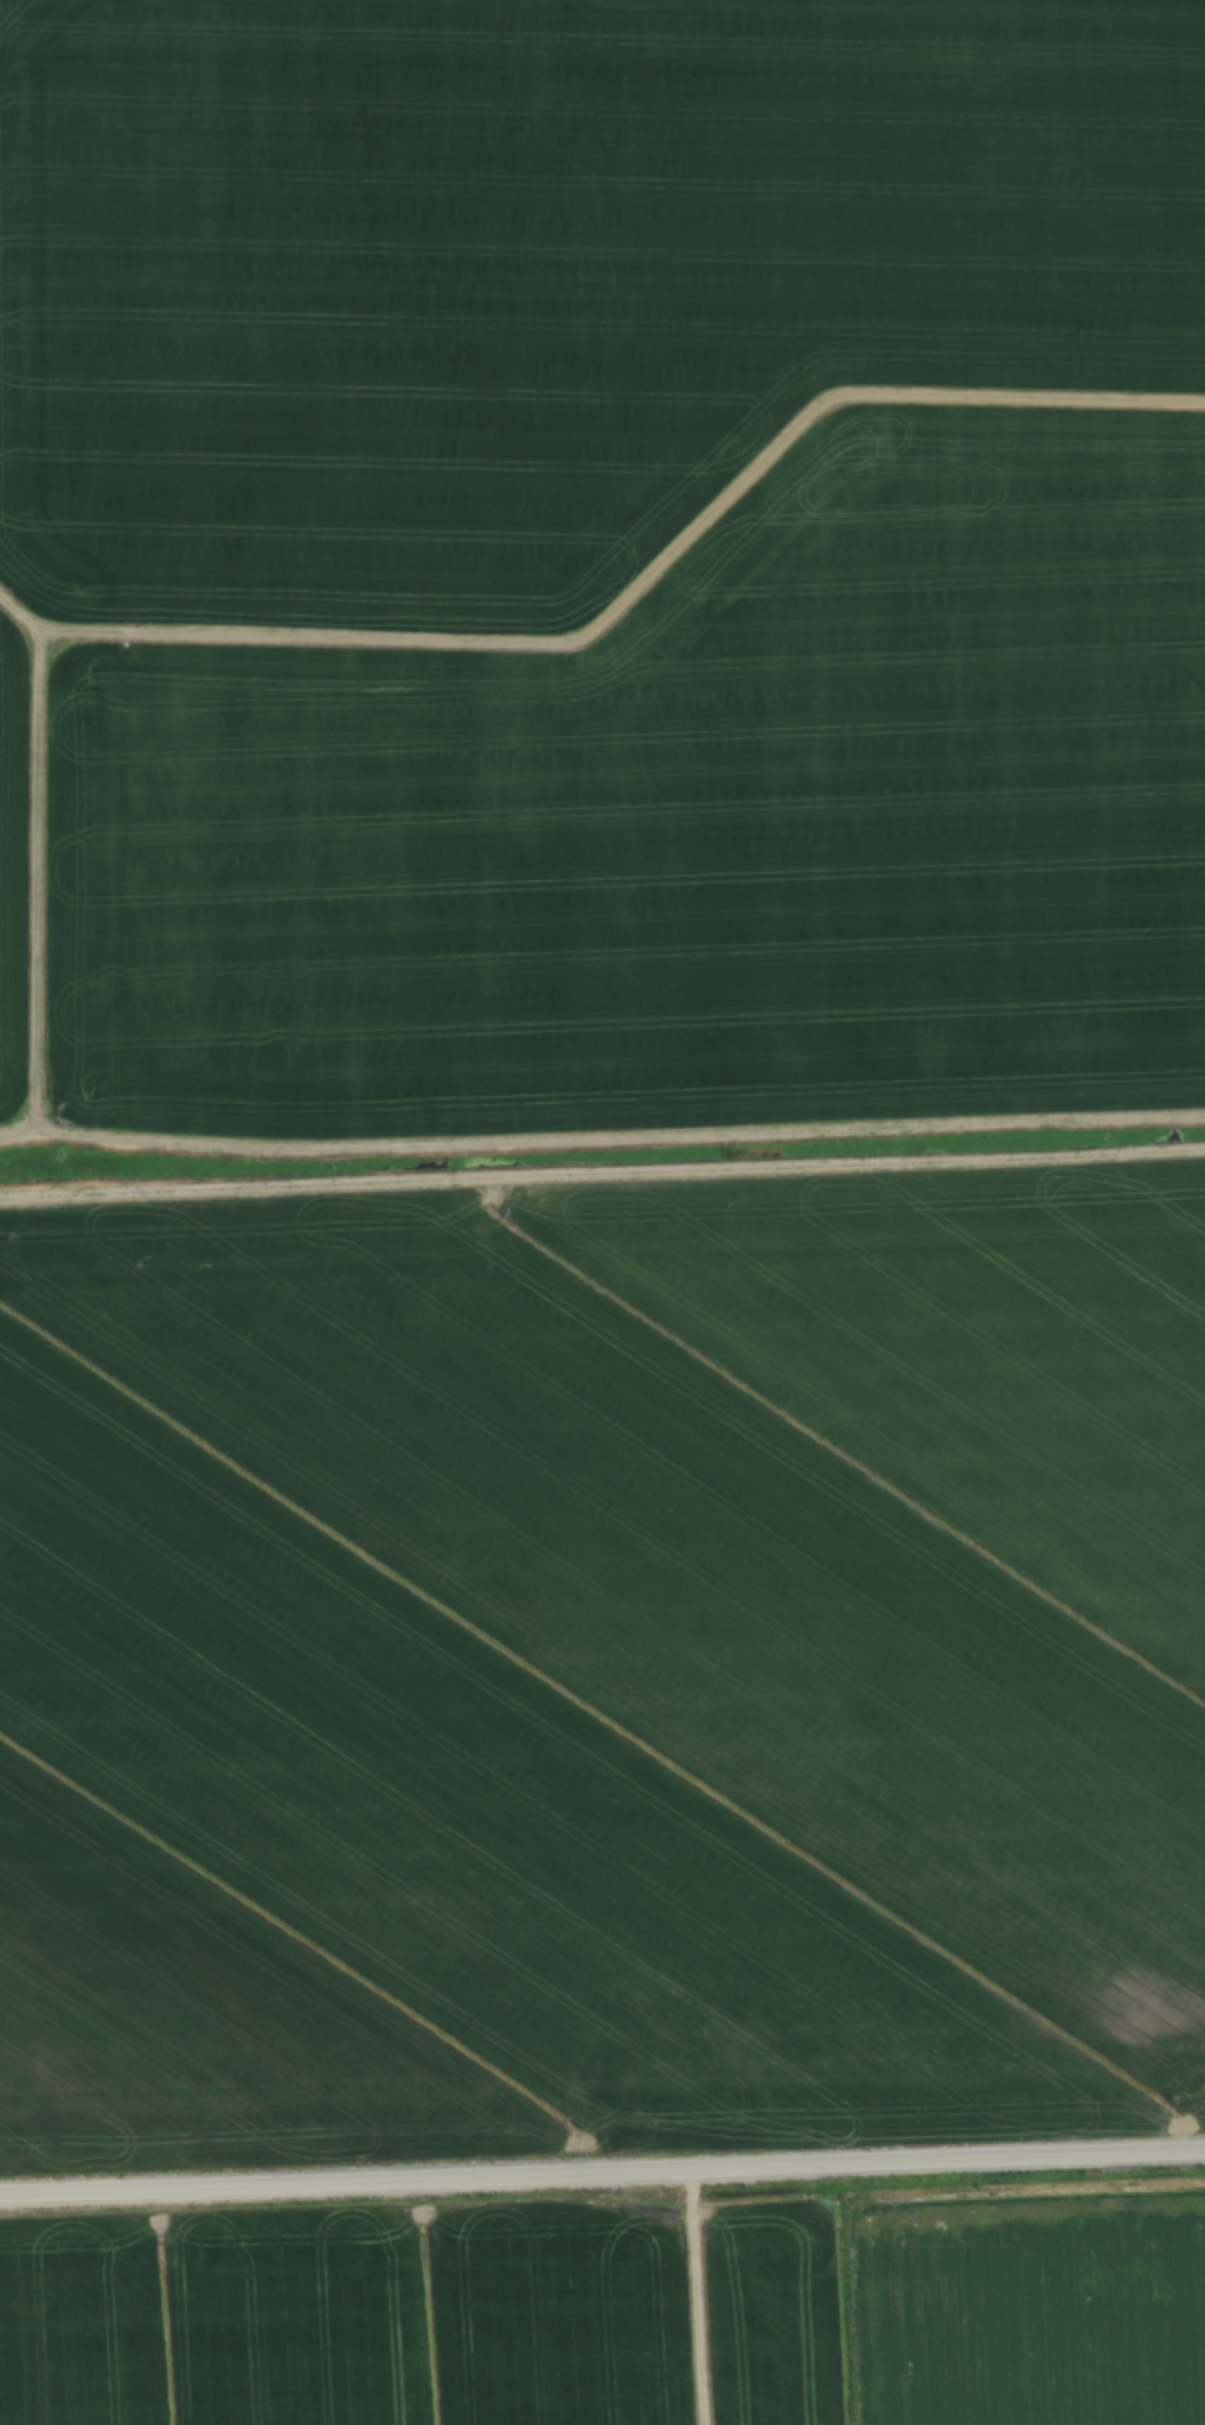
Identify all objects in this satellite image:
road: (602, 2171)

